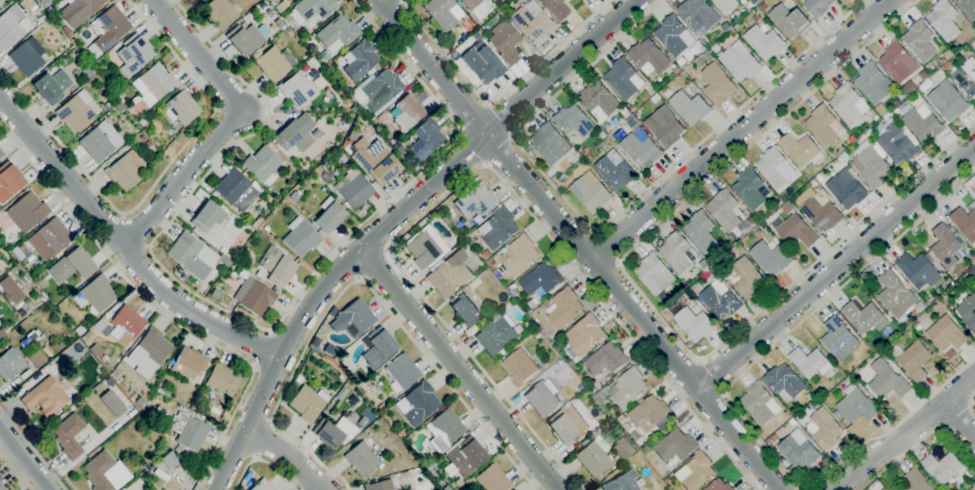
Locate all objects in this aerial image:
building: (198, 0)
building: (200, 0)
building: (288, 0)
building: (586, 0)
building: (496, 1)
building: (759, 1)
building: (470, 3)
building: (726, 5)
building: (747, 6)
building: (763, 7)
building: (818, 7)
building: (967, 8)
building: (311, 9)
building: (558, 9)
building: (79, 10)
building: (269, 12)
building: (220, 13)
building: (443, 13)
building: (699, 16)
building: (245, 18)
building: (42, 19)
building: (756, 19)
building: (944, 20)
building: (288, 21)
building: (535, 21)
building: (790, 21)
building: (279, 23)
building: (12, 26)
building: (111, 27)
building: (726, 28)
building: (67, 29)
building: (337, 33)
building: (672, 36)
building: (245, 39)
building: (505, 41)
building: (920, 41)
building: (765, 43)
building: (699, 47)
building: (954, 47)
building: (134, 54)
building: (948, 54)
building: (80, 57)
building: (649, 57)
building: (26, 58)
building: (91, 60)
building: (359, 60)
building: (482, 62)
building: (898, 62)
building: (271, 63)
building: (681, 63)
building: (740, 64)
building: (930, 67)
building: (676, 70)
building: (923, 75)
building: (962, 78)
building: (624, 79)
building: (154, 83)
building: (718, 84)
building: (873, 84)
building: (52, 86)
building: (297, 89)
building: (378, 91)
road: (497, 94)
building: (121, 100)
building: (599, 101)
building: (948, 101)
building: (108, 105)
building: (849, 106)
building: (118, 107)
building: (127, 107)
building: (690, 107)
building: (181, 108)
building: (631, 108)
building: (75, 111)
building: (896, 111)
building: (407, 113)
building: (359, 117)
road: (474, 118)
building: (876, 118)
road: (501, 119)
building: (574, 121)
building: (142, 122)
road: (227, 123)
building: (923, 124)
building: (823, 126)
building: (667, 127)
road: (742, 129)
building: (293, 131)
building: (870, 133)
building: (352, 135)
building: (142, 138)
building: (426, 139)
building: (897, 143)
building: (97, 144)
building: (550, 144)
building: (149, 146)
road: (473, 149)
road: (500, 150)
building: (640, 150)
building: (801, 150)
building: (584, 152)
building: (1, 153)
building: (588, 156)
building: (375, 160)
building: (262, 164)
building: (871, 165)
building: (319, 168)
building: (774, 168)
building: (289, 169)
road: (478, 169)
building: (126, 170)
building: (615, 171)
building: (553, 179)
building: (820, 179)
building: (9, 180)
road: (155, 184)
building: (555, 184)
building: (233, 186)
building: (353, 188)
building: (750, 189)
building: (847, 190)
building: (591, 193)
building: (476, 199)
building: (272, 204)
building: (788, 208)
building: (771, 210)
building: (27, 212)
building: (728, 213)
building: (821, 214)
building: (329, 215)
building: (208, 216)
road: (394, 220)
building: (964, 224)
road: (607, 225)
building: (265, 228)
building: (498, 229)
road: (137, 230)
building: (796, 231)
building: (701, 232)
building: (300, 237)
building: (50, 239)
road: (580, 244)
road: (123, 247)
road: (607, 247)
building: (944, 247)
building: (423, 249)
building: (223, 250)
building: (678, 253)
building: (18, 254)
building: (189, 255)
building: (486, 255)
building: (519, 255)
building: (770, 258)
road: (372, 261)
building: (80, 262)
building: (492, 262)
building: (704, 265)
building: (277, 266)
road: (835, 267)
building: (918, 271)
building: (654, 274)
building: (450, 275)
road: (358, 277)
building: (746, 279)
road: (848, 279)
building: (974, 279)
building: (541, 280)
building: (42, 283)
building: (697, 288)
building: (11, 290)
building: (99, 292)
building: (513, 292)
building: (215, 293)
building: (895, 294)
building: (255, 296)
road: (645, 300)
building: (720, 300)
building: (564, 308)
building: (465, 309)
building: (674, 309)
road: (159, 310)
building: (968, 312)
building: (666, 315)
building: (864, 318)
building: (353, 319)
road: (254, 324)
building: (694, 324)
building: (126, 325)
building: (103, 327)
building: (80, 330)
building: (1, 334)
building: (535, 334)
building: (947, 334)
building: (499, 335)
building: (584, 335)
building: (838, 336)
building: (88, 337)
building: (551, 338)
building: (378, 347)
building: (47, 349)
road: (262, 349)
building: (96, 350)
building: (149, 352)
building: (37, 358)
building: (606, 359)
building: (913, 360)
building: (189, 362)
building: (10, 363)
building: (810, 363)
building: (519, 367)
road: (460, 369)
building: (402, 372)
road: (710, 374)
building: (341, 377)
building: (223, 379)
building: (299, 379)
building: (887, 381)
building: (785, 383)
building: (590, 384)
building: (628, 388)
road: (960, 388)
building: (811, 396)
building: (46, 397)
building: (543, 398)
building: (308, 402)
building: (140, 403)
building: (418, 403)
building: (760, 404)
building: (856, 405)
road: (970, 406)
building: (649, 414)
road: (960, 419)
building: (567, 425)
building: (444, 429)
building: (826, 429)
building: (189, 431)
building: (334, 431)
building: (402, 433)
building: (69, 436)
building: (774, 438)
building: (584, 442)
road: (917, 442)
road: (889, 445)
building: (676, 446)
road: (34, 448)
building: (624, 448)
building: (98, 449)
building: (799, 450)
road: (287, 454)
building: (362, 456)
building: (466, 456)
building: (594, 456)
road: (25, 458)
building: (169, 459)
road: (261, 460)
road: (839, 463)
building: (943, 468)
road: (15, 470)
building: (106, 472)
building: (695, 472)
building: (492, 479)
building: (917, 481)
building: (622, 482)
building: (380, 485)
building: (262, 486)
building: (719, 486)
building: (1, 487)
building: (122, 489)
building: (513, 489)
road: (804, 489)
road: (805, 489)

